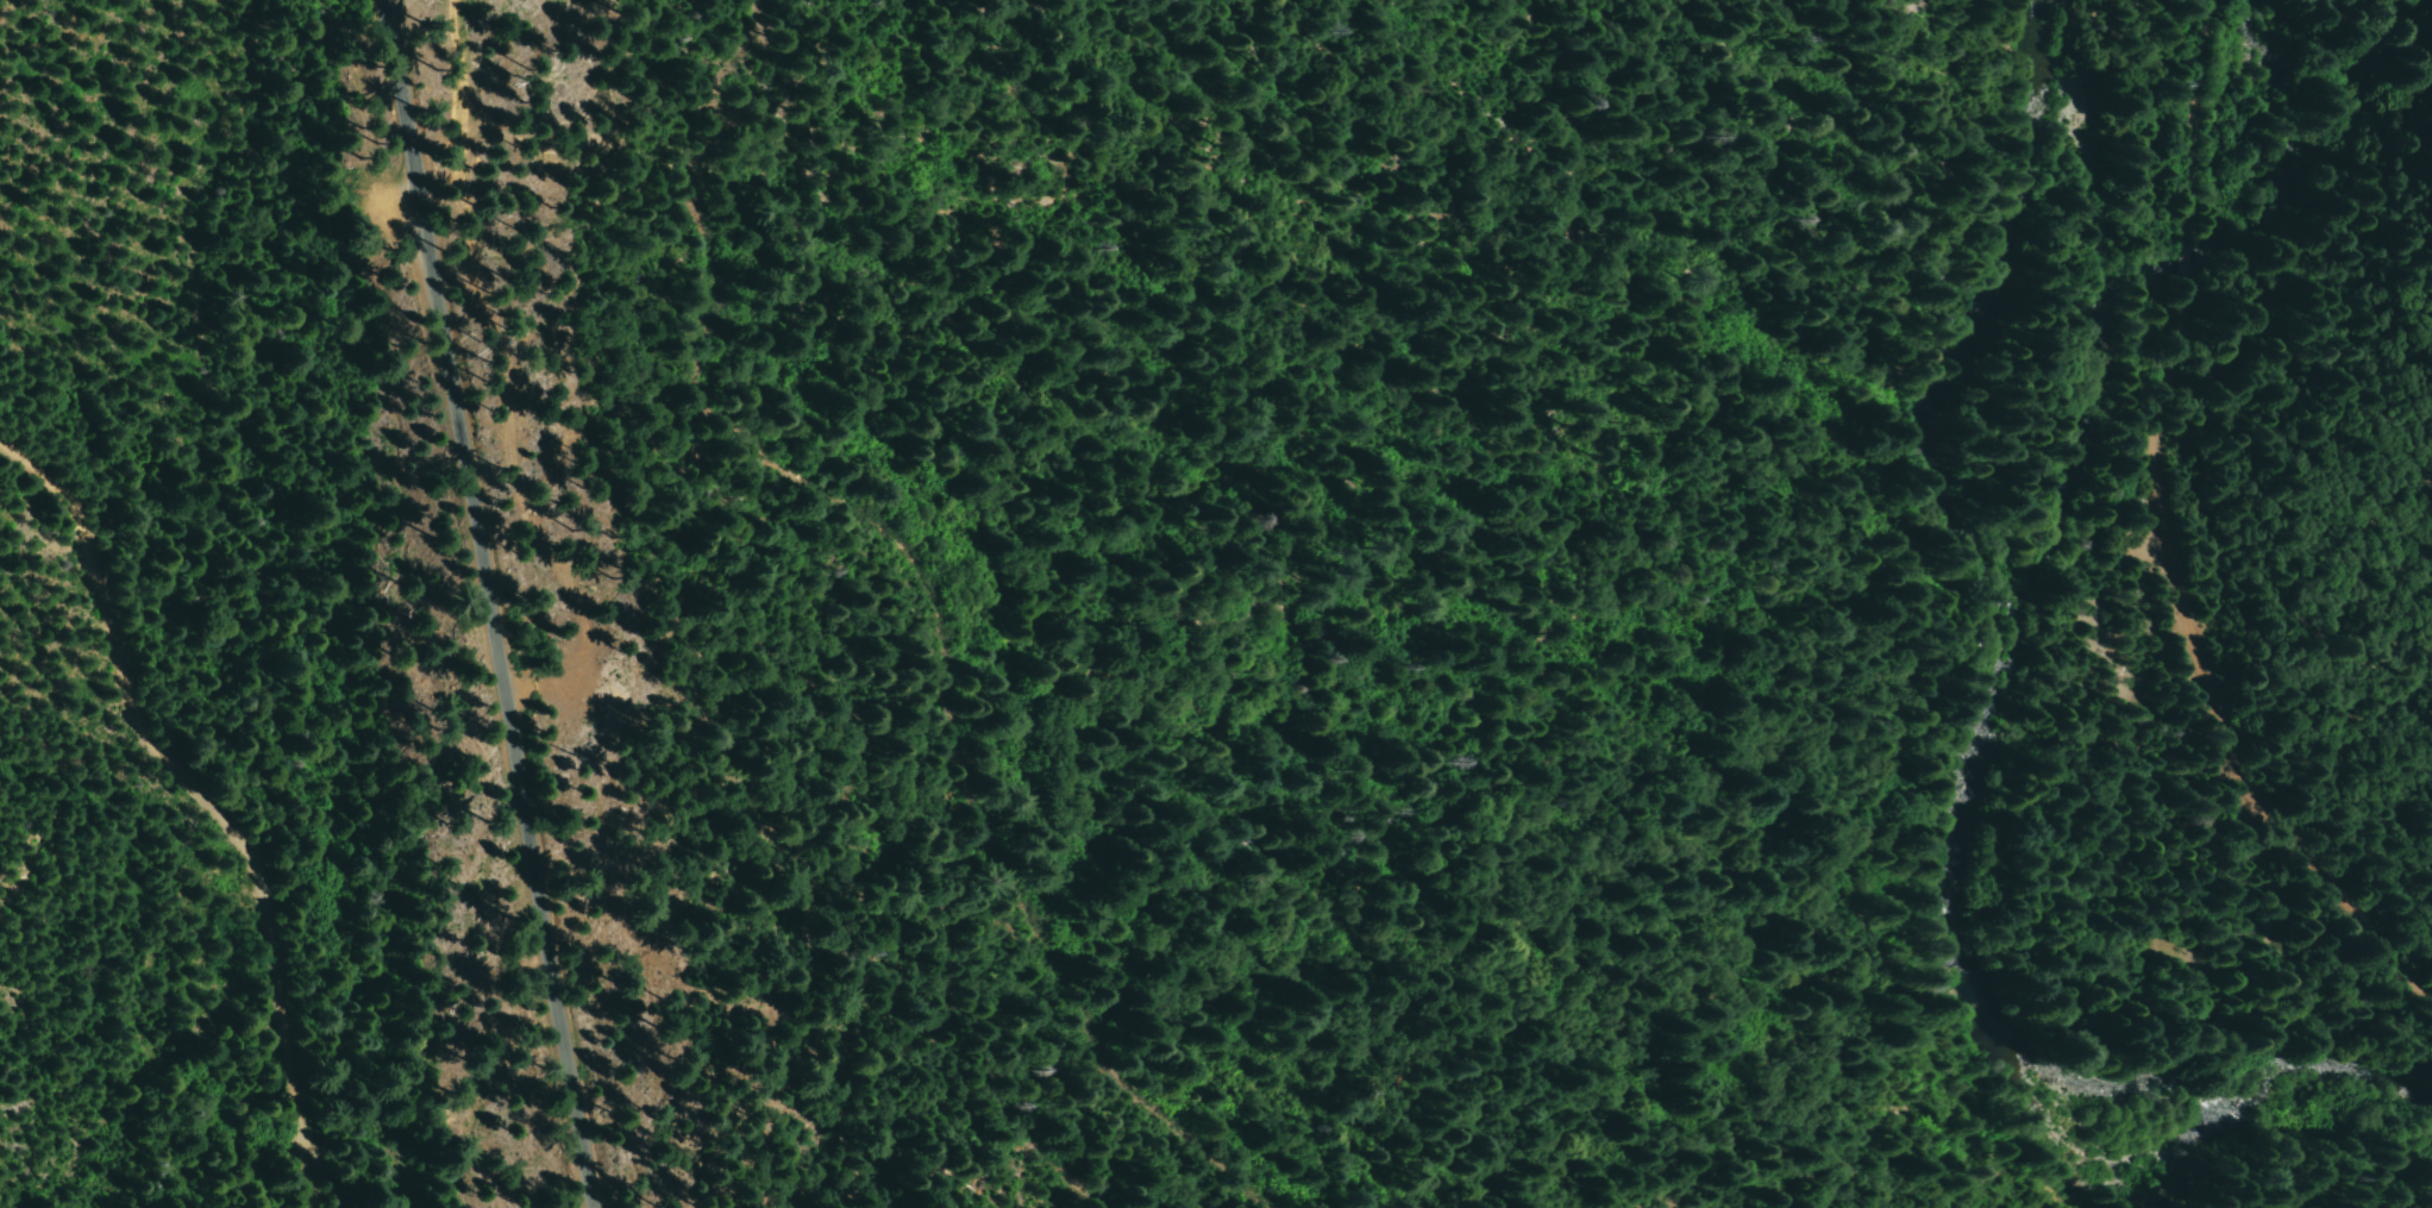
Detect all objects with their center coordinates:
road: (2121, 549)
road: (487, 602)
road: (909, 605)
river: (1960, 769)
road: (206, 800)

